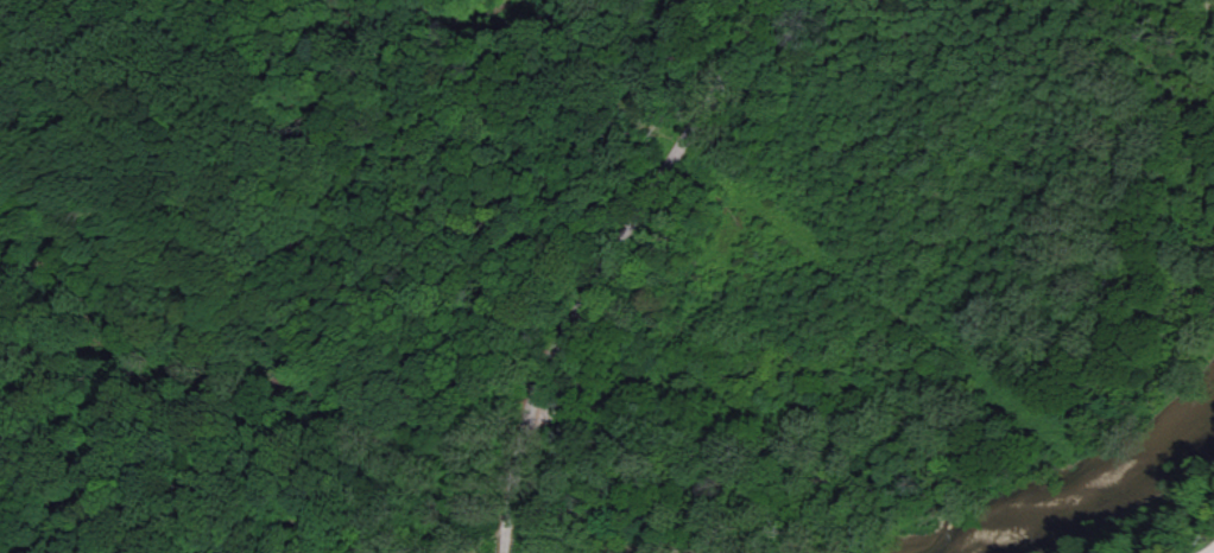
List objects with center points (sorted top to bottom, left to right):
road: (601, 263)
river: (1054, 506)
road: (1213, 552)

